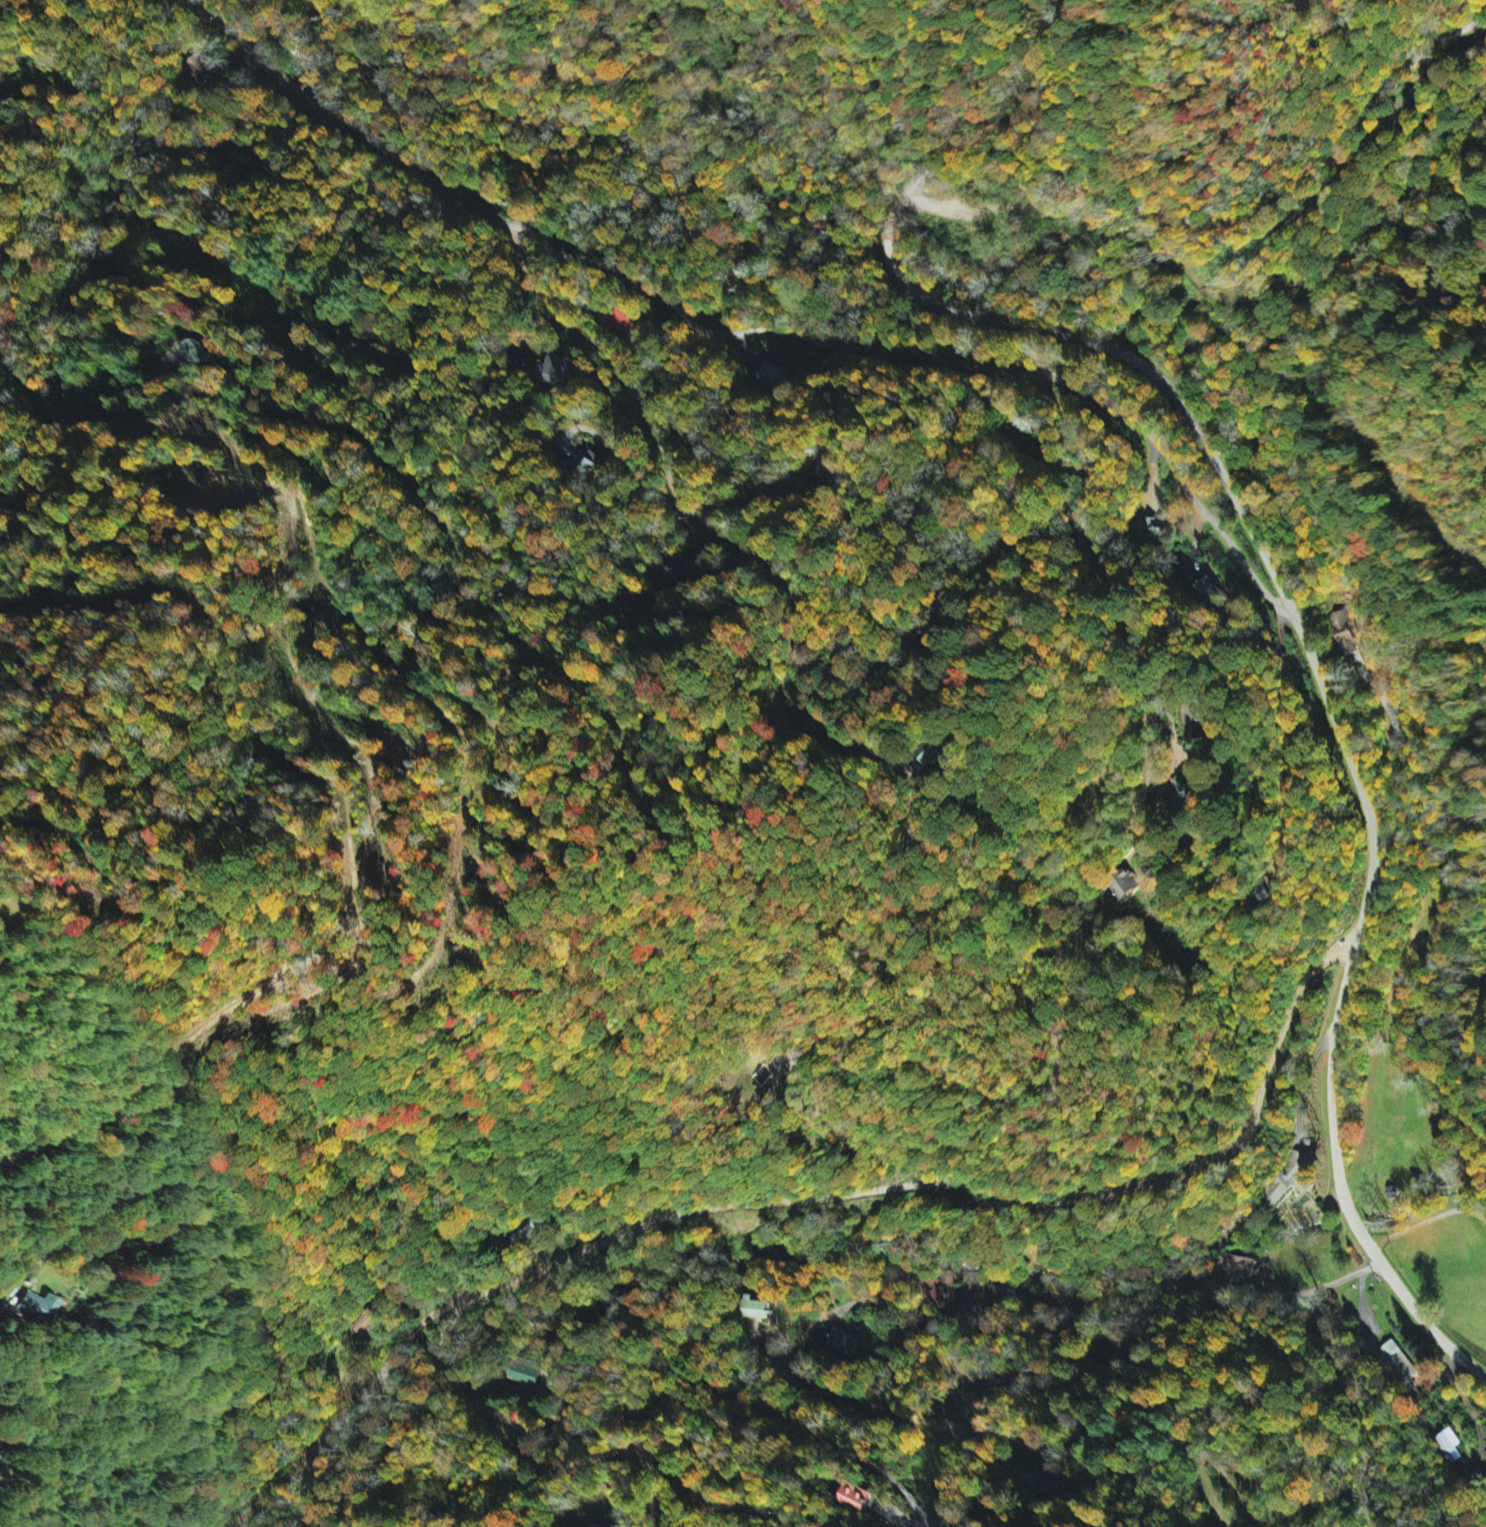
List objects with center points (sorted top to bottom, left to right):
road: (744, 330)
building: (554, 372)
road: (1149, 392)
road: (133, 417)
building: (1152, 528)
building: (1343, 634)
building: (1128, 883)
road: (774, 1064)
building: (762, 1074)
road: (93, 1164)
building: (1292, 1175)
road: (814, 1187)
building: (1240, 1265)
road: (19, 1278)
building: (38, 1306)
building: (759, 1309)
road: (1018, 1326)
building: (842, 1341)
building: (1398, 1362)
building: (528, 1374)
road: (1357, 1395)
road: (1464, 1396)
road: (864, 1424)
building: (1451, 1445)
road: (563, 1460)
road: (263, 1492)
building: (858, 1497)

